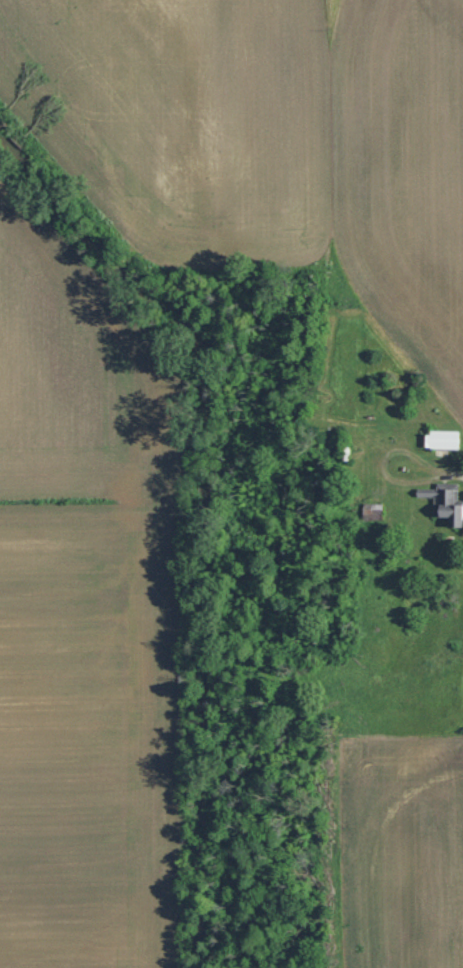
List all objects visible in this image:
building: (440, 438)
building: (444, 502)

